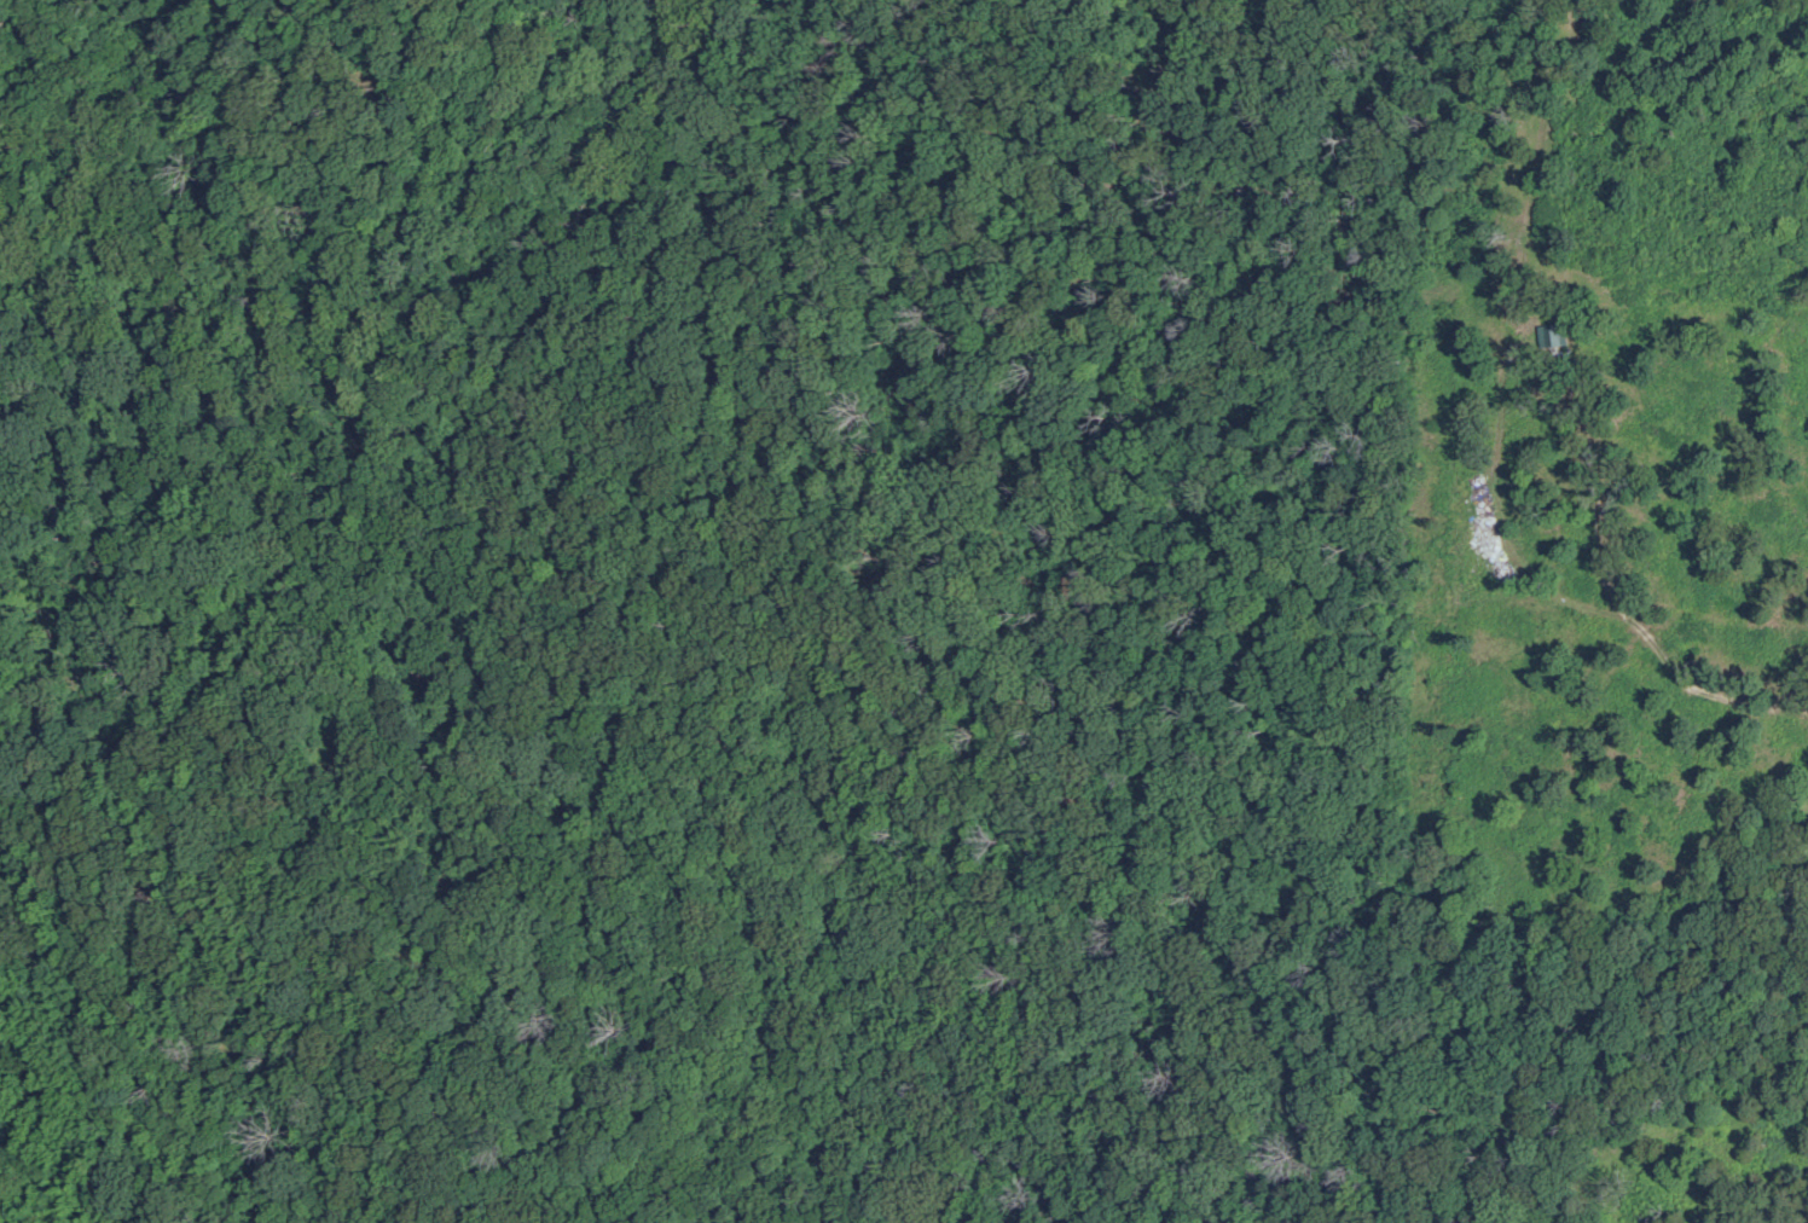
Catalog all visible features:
park: (1787, 852)

